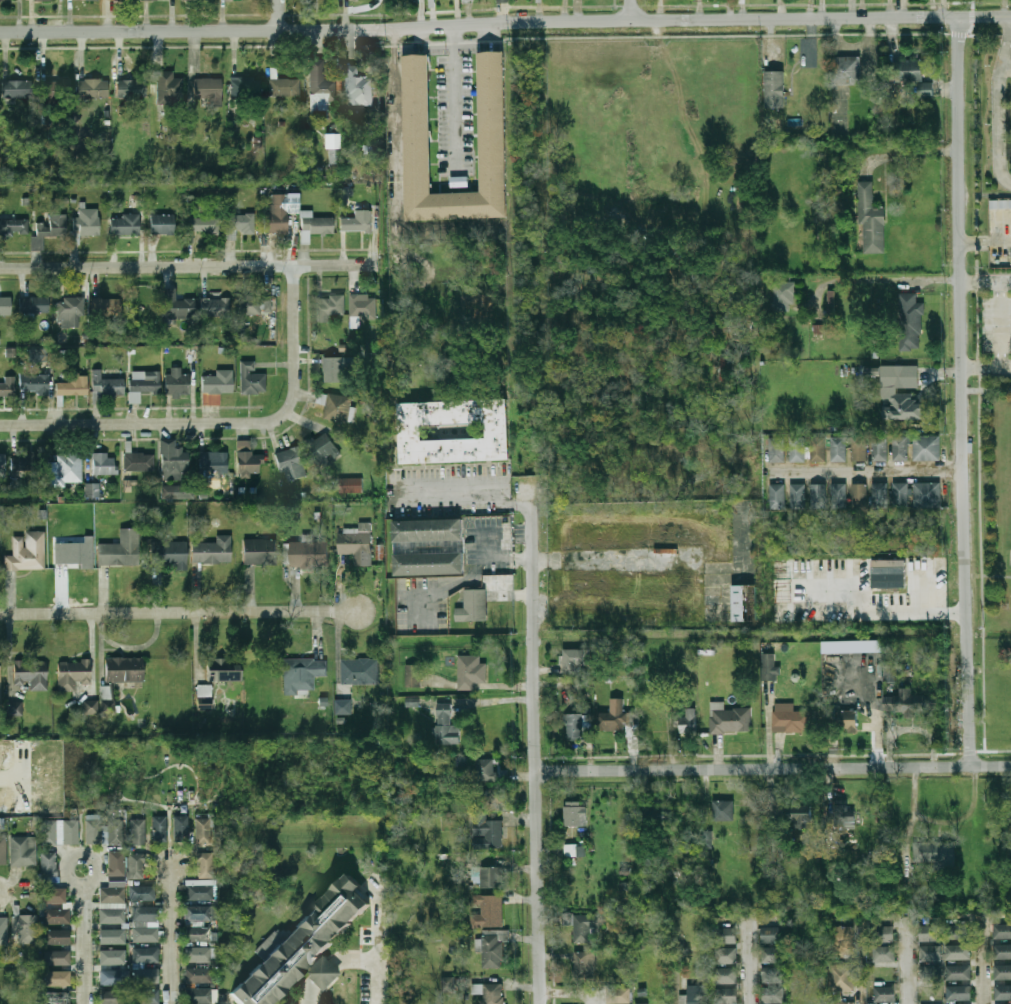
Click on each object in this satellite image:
building: (3, 0)
building: (37, 0)
building: (504, 1)
road: (494, 9)
road: (629, 10)
road: (281, 15)
road: (505, 23)
road: (968, 28)
road: (732, 35)
road: (1005, 40)
building: (906, 70)
building: (845, 71)
road: (454, 86)
building: (247, 87)
building: (285, 87)
building: (320, 87)
building: (169, 88)
building: (17, 89)
building: (55, 89)
building: (93, 89)
building: (131, 89)
building: (774, 89)
building: (210, 90)
building: (359, 90)
building: (925, 90)
road: (996, 120)
building: (492, 123)
building: (336, 130)
building: (335, 153)
building: (999, 203)
building: (278, 213)
building: (870, 219)
building: (358, 222)
building: (86, 224)
building: (163, 224)
building: (238, 224)
building: (125, 225)
building: (203, 225)
building: (317, 226)
building: (14, 227)
building: (50, 229)
road: (189, 269)
road: (899, 278)
road: (985, 278)
building: (784, 295)
building: (831, 303)
building: (331, 305)
building: (35, 306)
building: (255, 306)
building: (6, 307)
building: (107, 307)
building: (179, 307)
building: (216, 307)
building: (362, 307)
building: (72, 310)
building: (910, 322)
road: (985, 364)
building: (336, 368)
building: (252, 379)
building: (178, 383)
building: (35, 384)
building: (143, 384)
building: (74, 385)
building: (107, 385)
building: (217, 386)
building: (8, 387)
road: (960, 390)
road: (985, 390)
building: (900, 393)
building: (336, 406)
road: (218, 425)
building: (453, 432)
building: (797, 448)
building: (838, 448)
building: (859, 448)
building: (879, 448)
building: (900, 448)
building: (926, 448)
building: (322, 449)
building: (777, 449)
building: (818, 449)
building: (173, 460)
building: (26, 461)
building: (248, 461)
building: (3, 462)
building: (139, 462)
building: (291, 463)
building: (106, 464)
building: (213, 466)
building: (68, 469)
road: (863, 471)
road: (449, 482)
building: (351, 485)
building: (92, 490)
building: (179, 492)
building: (817, 495)
building: (839, 495)
building: (860, 495)
building: (879, 495)
building: (900, 495)
building: (927, 495)
building: (777, 496)
building: (797, 496)
park: (996, 502)
road: (487, 506)
building: (428, 530)
building: (357, 544)
building: (121, 549)
building: (214, 551)
building: (27, 552)
building: (260, 552)
building: (309, 553)
building: (74, 554)
building: (169, 554)
building: (428, 563)
building: (887, 573)
road: (986, 576)
building: (739, 603)
building: (472, 606)
road: (903, 609)
road: (179, 613)
building: (851, 645)
building: (574, 661)
building: (768, 667)
building: (124, 669)
building: (223, 670)
building: (359, 671)
building: (469, 672)
building: (72, 674)
building: (31, 675)
building: (302, 676)
building: (413, 676)
building: (0, 684)
building: (204, 693)
building: (915, 701)
building: (90, 707)
building: (108, 707)
building: (343, 707)
building: (14, 709)
building: (612, 716)
building: (790, 718)
building: (729, 719)
building: (688, 721)
building: (847, 721)
building: (446, 726)
building: (575, 726)
road: (535, 751)
road: (773, 766)
building: (485, 769)
road: (10, 777)
building: (496, 799)
building: (723, 810)
building: (575, 813)
building: (660, 814)
building: (797, 814)
building: (842, 814)
building: (182, 828)
building: (203, 829)
building: (159, 830)
building: (69, 832)
building: (104, 832)
building: (137, 832)
building: (487, 832)
building: (52, 835)
building: (774, 845)
building: (3, 850)
building: (19, 851)
building: (933, 852)
building: (116, 864)
building: (205, 865)
building: (48, 867)
building: (136, 867)
building: (491, 876)
building: (199, 892)
building: (144, 893)
building: (53, 895)
building: (112, 895)
building: (487, 910)
building: (145, 914)
building: (198, 915)
building: (112, 916)
building: (56, 917)
building: (582, 924)
building: (3, 926)
building: (25, 928)
building: (1005, 930)
building: (962, 932)
road: (175, 933)
building: (887, 933)
building: (933, 933)
building: (198, 934)
building: (775, 934)
road: (87, 935)
building: (145, 935)
building: (729, 935)
building: (112, 936)
building: (57, 937)
building: (845, 939)
building: (303, 944)
road: (378, 945)
building: (1005, 949)
building: (492, 951)
building: (961, 952)
building: (775, 953)
building: (887, 953)
building: (934, 953)
building: (146, 955)
building: (198, 955)
building: (730, 955)
building: (113, 957)
building: (57, 958)
road: (359, 958)
road: (862, 960)
road: (904, 963)
building: (585, 965)
road: (986, 965)
road: (752, 970)
building: (1005, 970)
building: (325, 972)
building: (934, 972)
building: (961, 972)
building: (730, 974)
road: (685, 975)
building: (775, 975)
building: (146, 976)
building: (198, 976)
building: (846, 977)
building: (112, 978)
building: (57, 979)
building: (447, 984)
building: (1005, 990)
building: (962, 992)
building: (489, 993)
building: (703, 993)
building: (887, 993)
road: (311, 994)
building: (622, 994)
building: (730, 995)
building: (776, 995)
building: (199, 996)
building: (113, 997)
building: (147, 997)
road: (572, 997)
building: (57, 998)
building: (848, 1002)
building: (647, 1003)
building: (1006, 1003)

